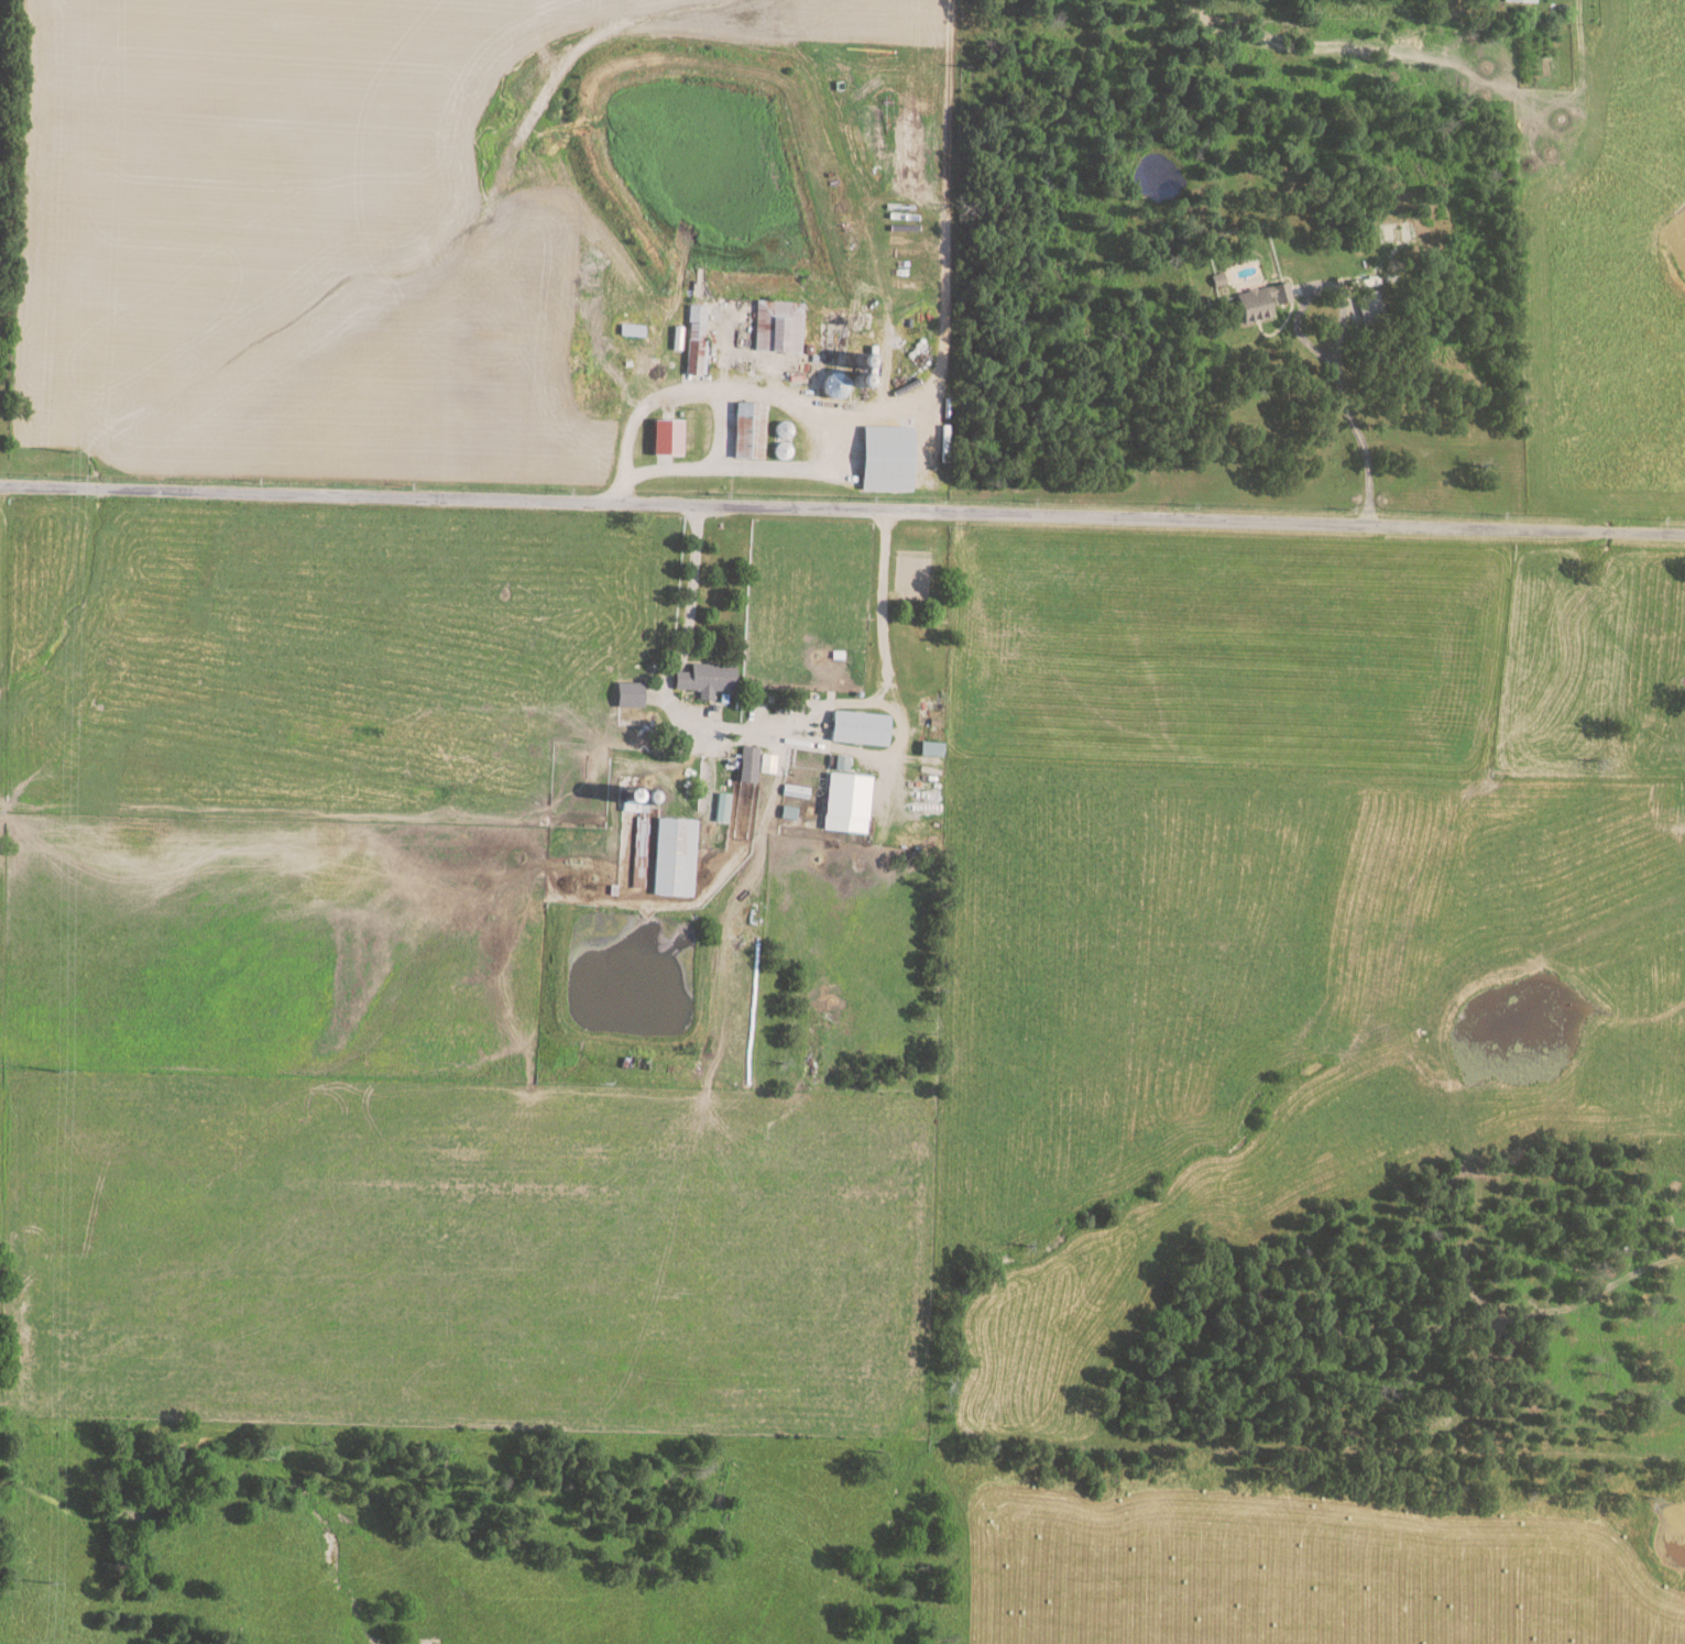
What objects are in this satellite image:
building: (1522, 0)
building: (1261, 302)
building: (1370, 306)
building: (696, 339)
road: (1337, 359)
road: (668, 394)
building: (748, 430)
building: (668, 437)
building: (888, 458)
road: (842, 511)
road: (880, 569)
building: (707, 679)
building: (630, 694)
road: (710, 725)
building: (858, 727)
building: (930, 748)
building: (766, 763)
building: (841, 763)
building: (747, 764)
building: (846, 802)
building: (721, 807)
building: (675, 857)

